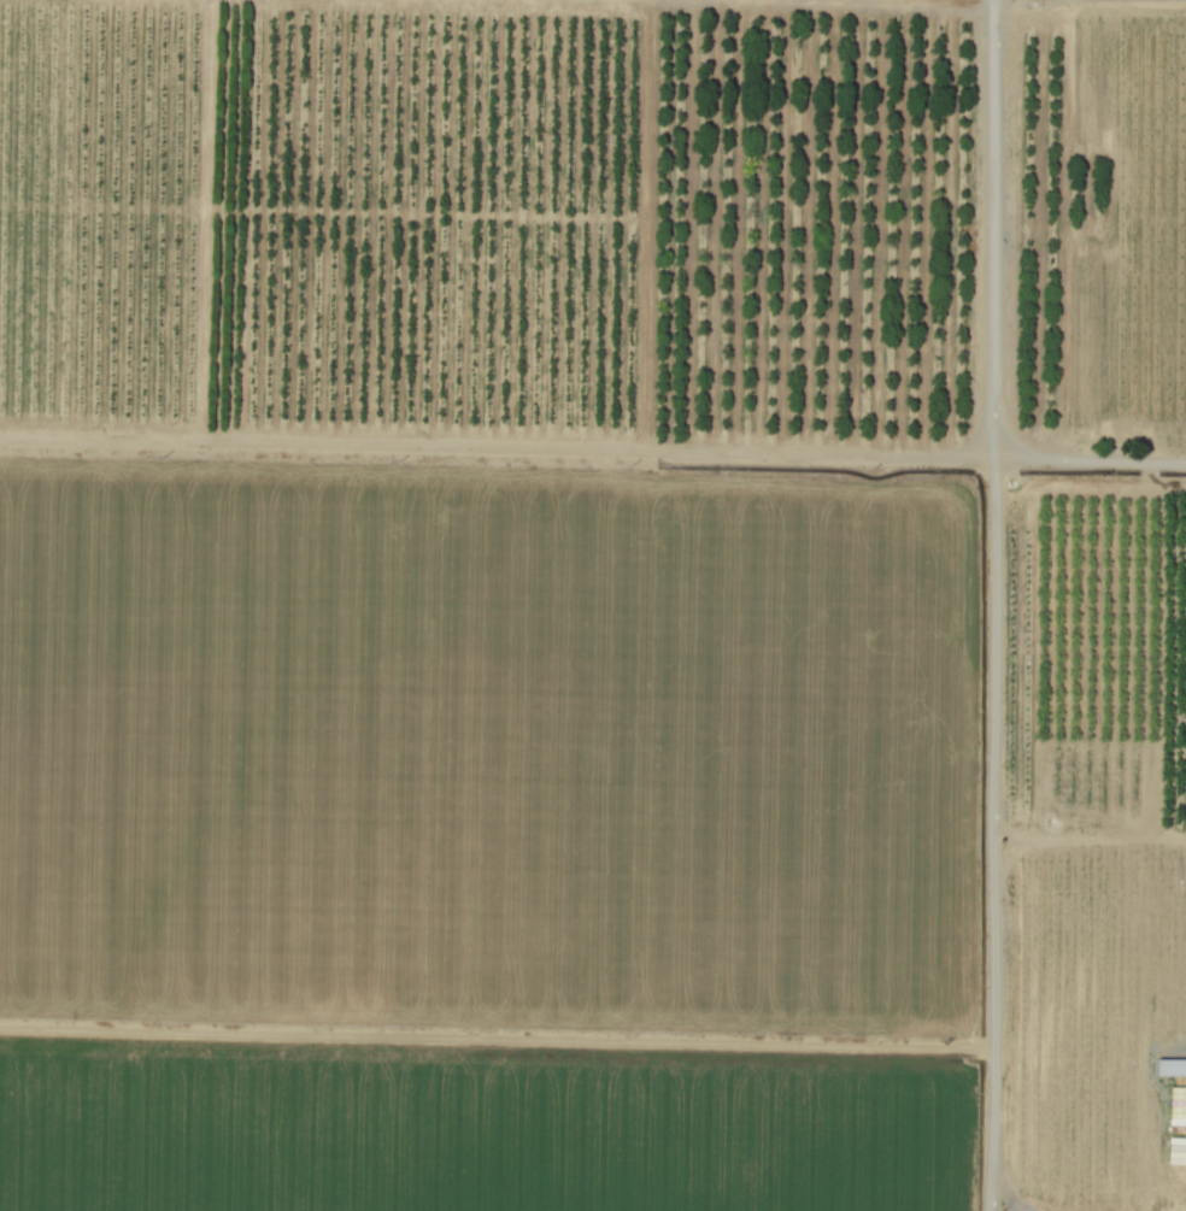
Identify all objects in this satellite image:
road: (593, 447)
road: (991, 605)
road: (494, 1037)
building: (1170, 1066)
road: (1006, 1187)

